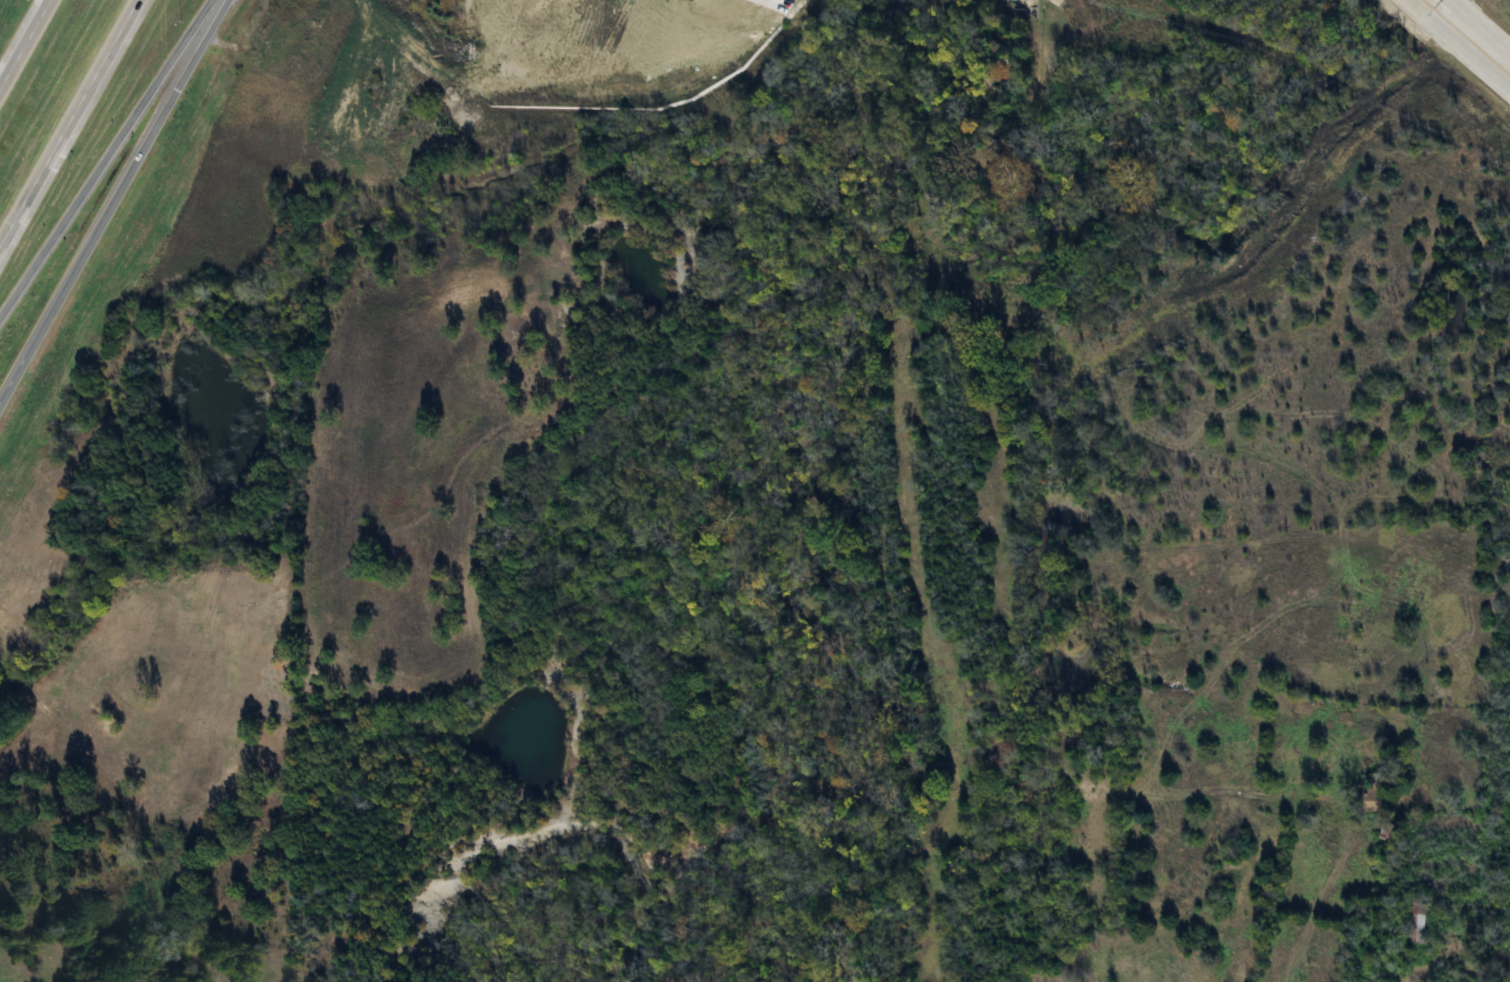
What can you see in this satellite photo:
road: (1479, 27)
road: (1457, 44)
road: (25, 45)
road: (69, 123)
road: (104, 153)
road: (114, 200)

